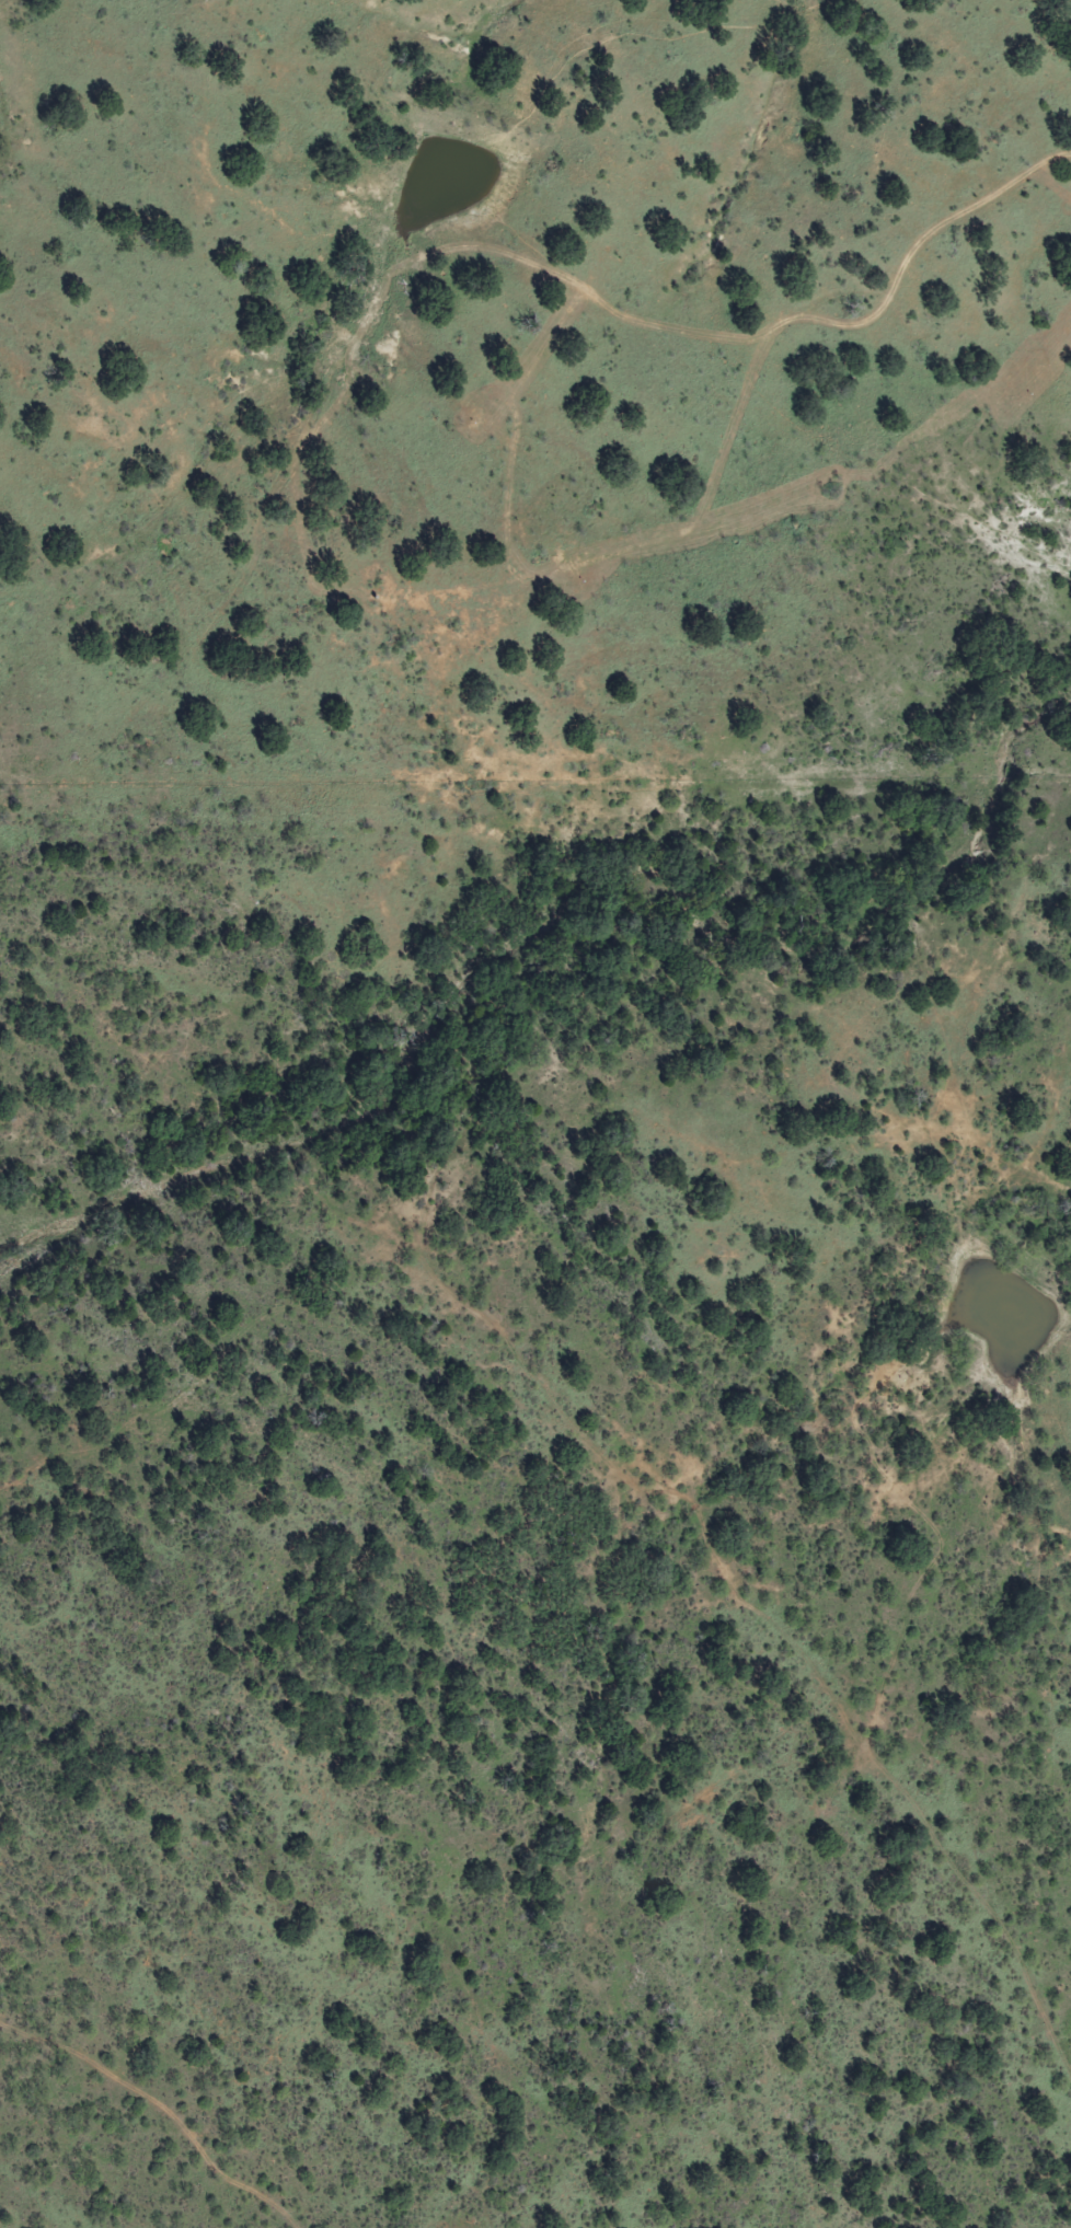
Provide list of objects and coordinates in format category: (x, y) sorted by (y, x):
road: (841, 325)

